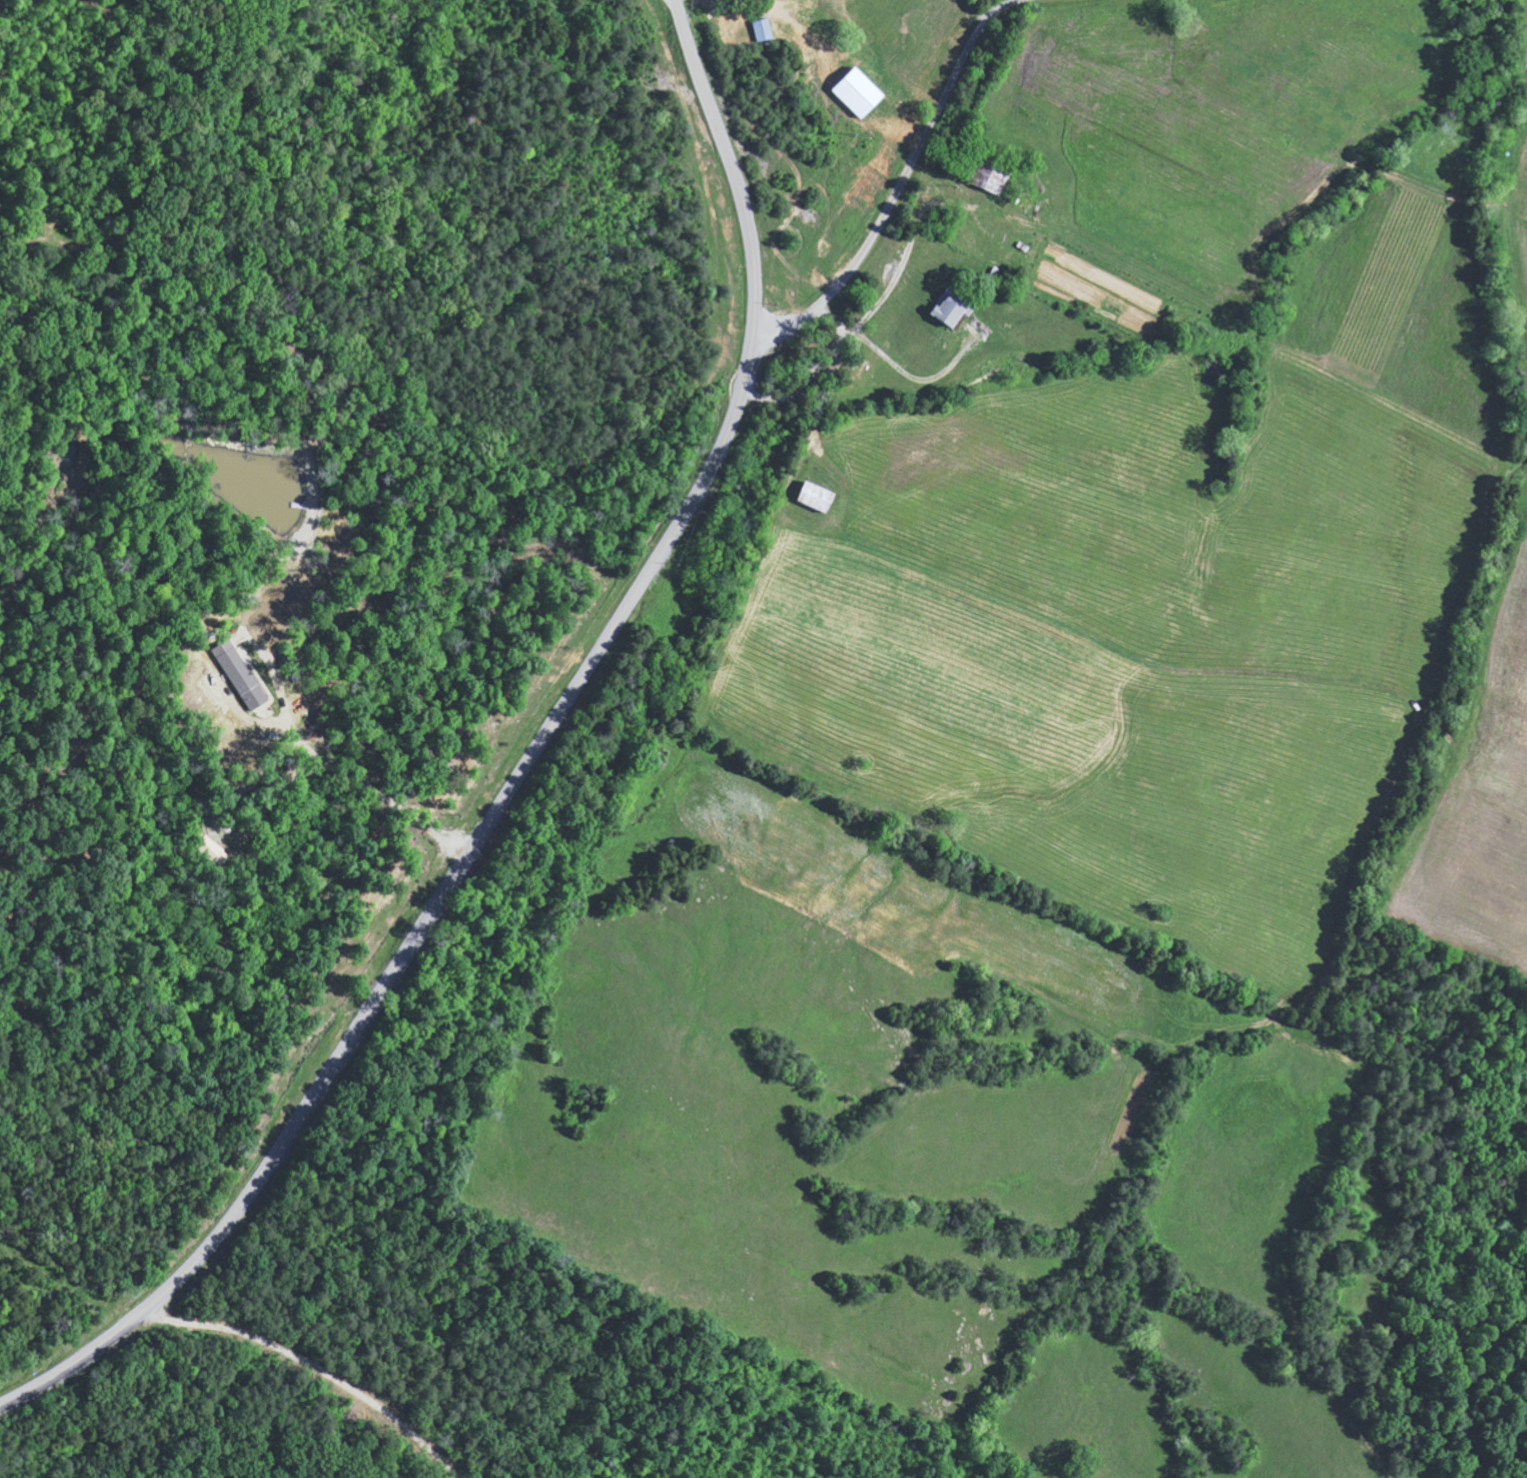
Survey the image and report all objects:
building: (763, 29)
building: (858, 91)
road: (898, 189)
building: (951, 308)
building: (817, 496)
road: (526, 767)
road: (377, 1304)

